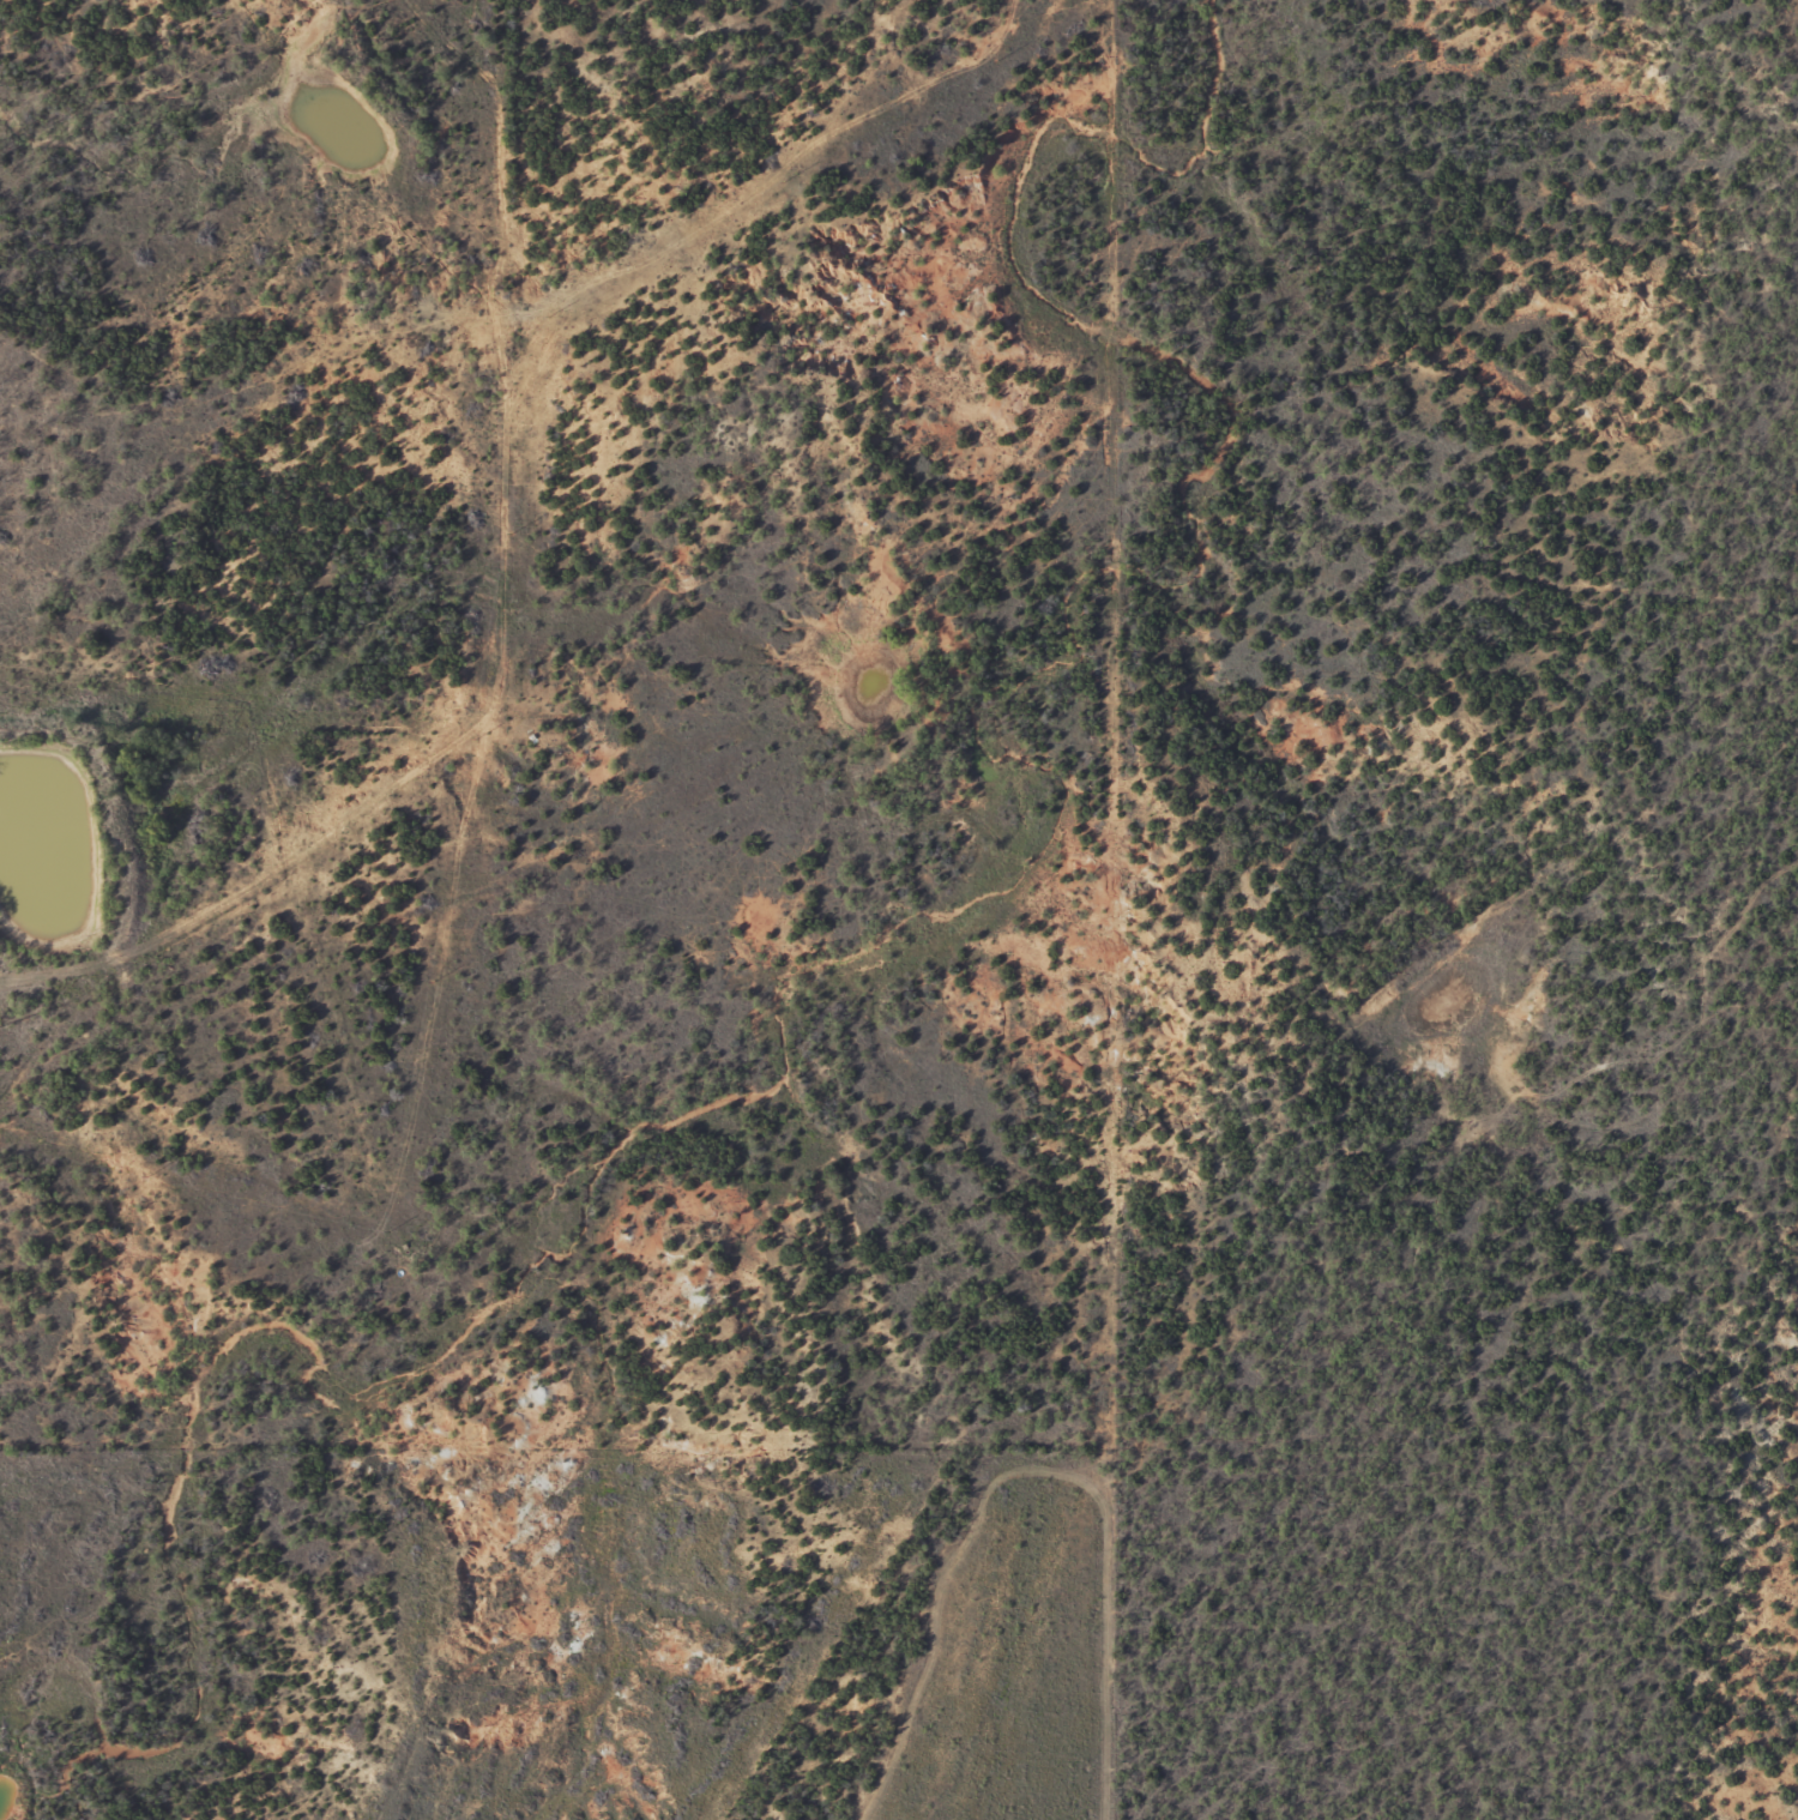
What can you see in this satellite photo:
road: (1177, 49)

